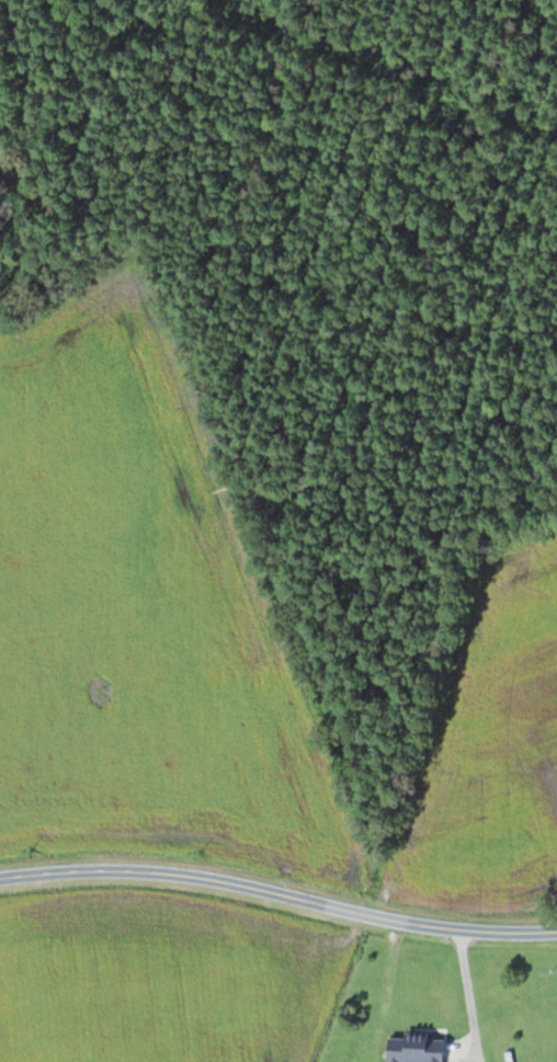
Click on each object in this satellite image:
road: (278, 893)
building: (414, 1052)

